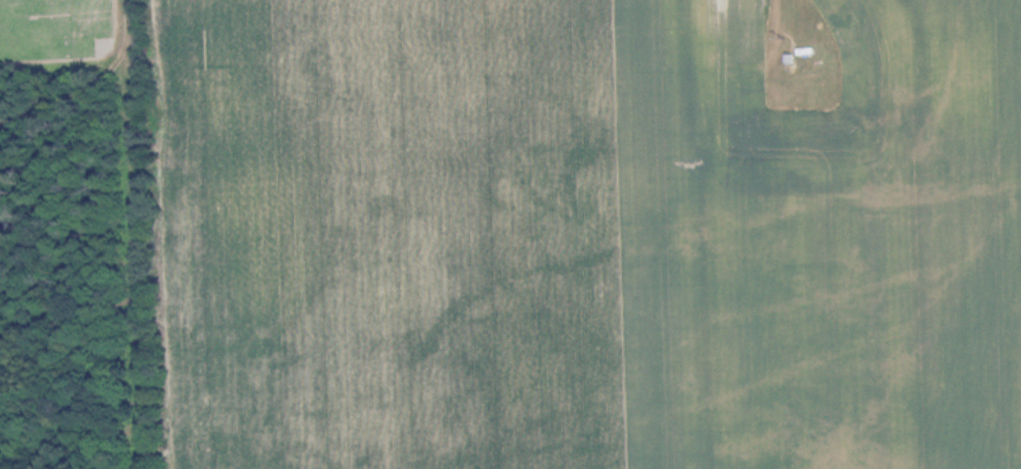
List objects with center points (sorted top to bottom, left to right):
building: (742, 11)

